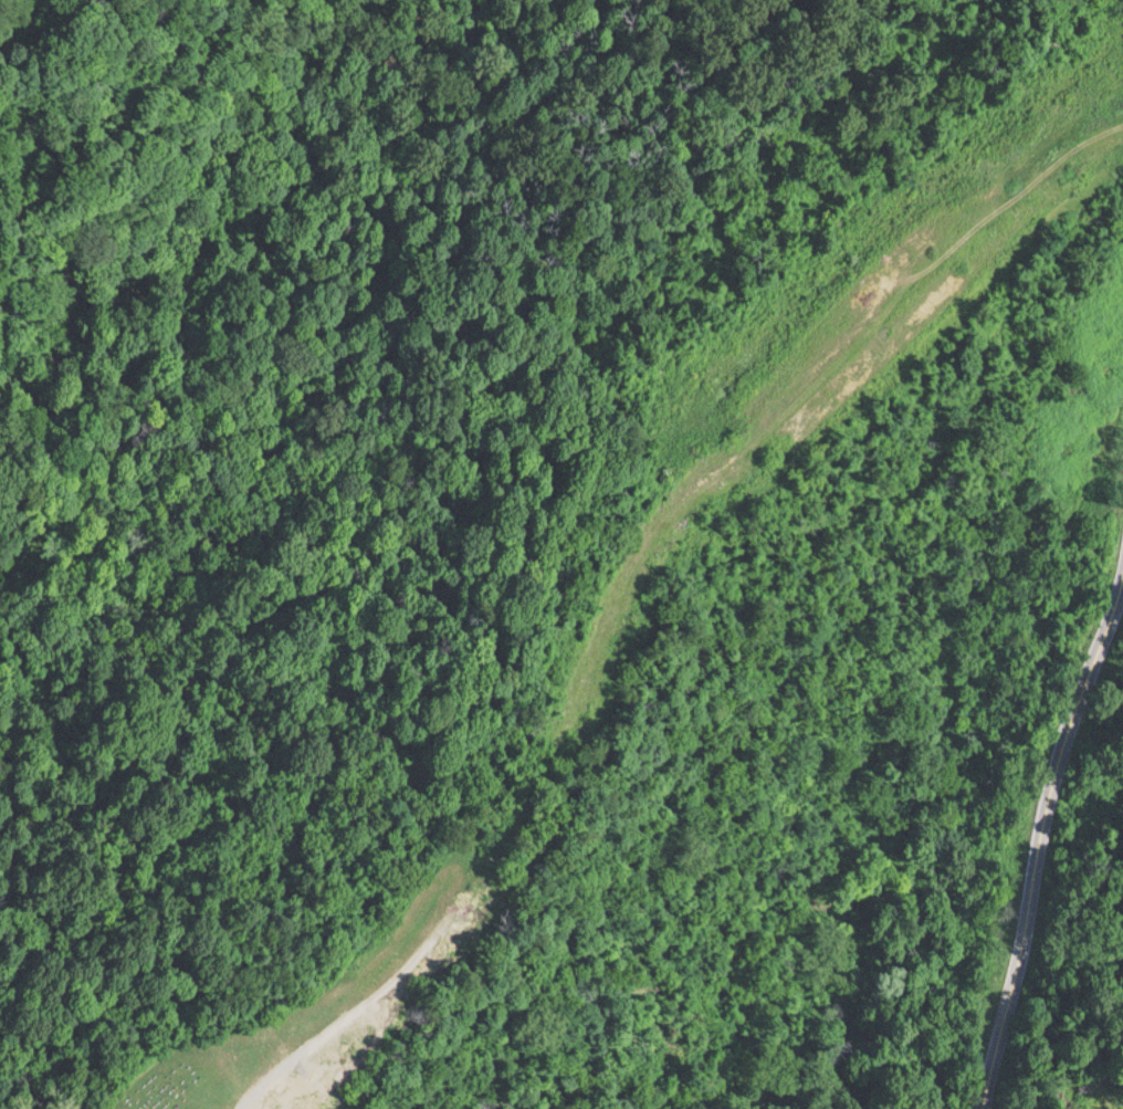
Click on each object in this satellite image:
road: (1038, 830)
park: (175, 1094)

